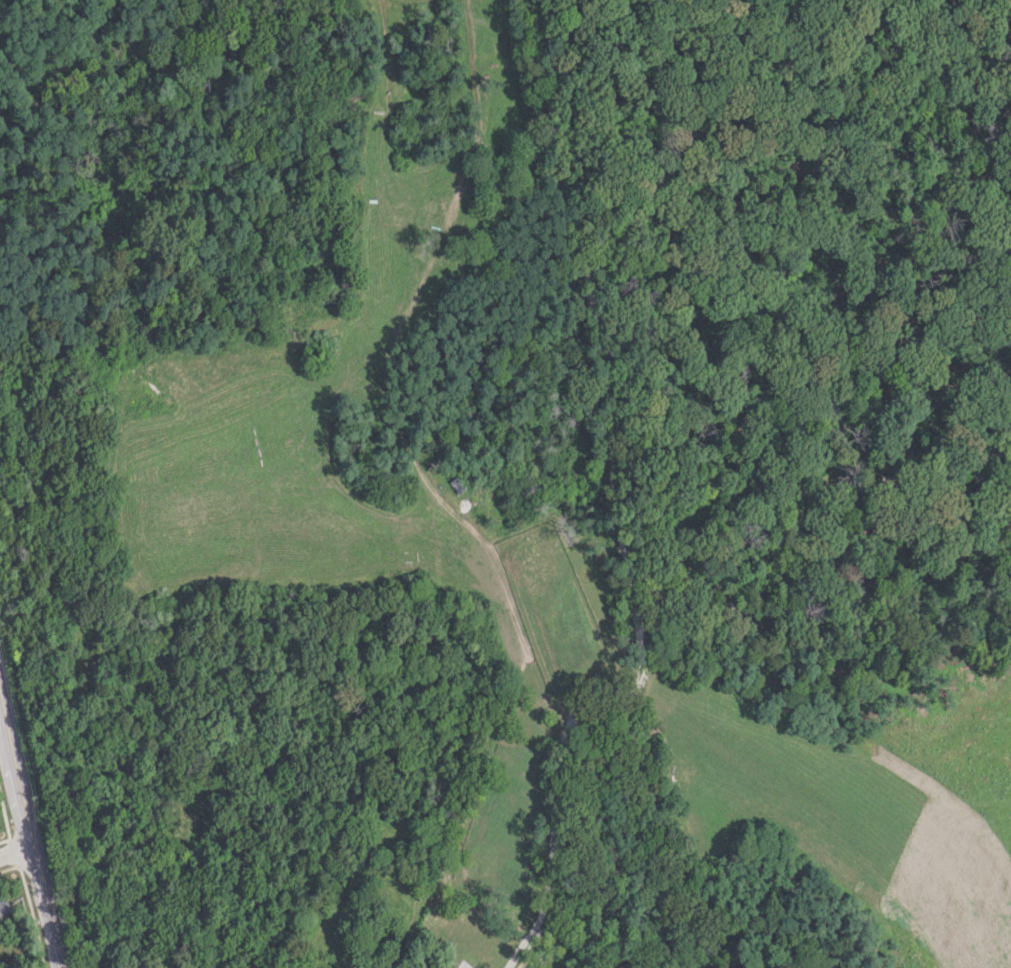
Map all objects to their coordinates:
road: (587, 309)
road: (379, 380)
park: (512, 478)
road: (804, 493)
road: (564, 739)
road: (28, 834)
road: (15, 852)
building: (3, 906)
road: (524, 938)

